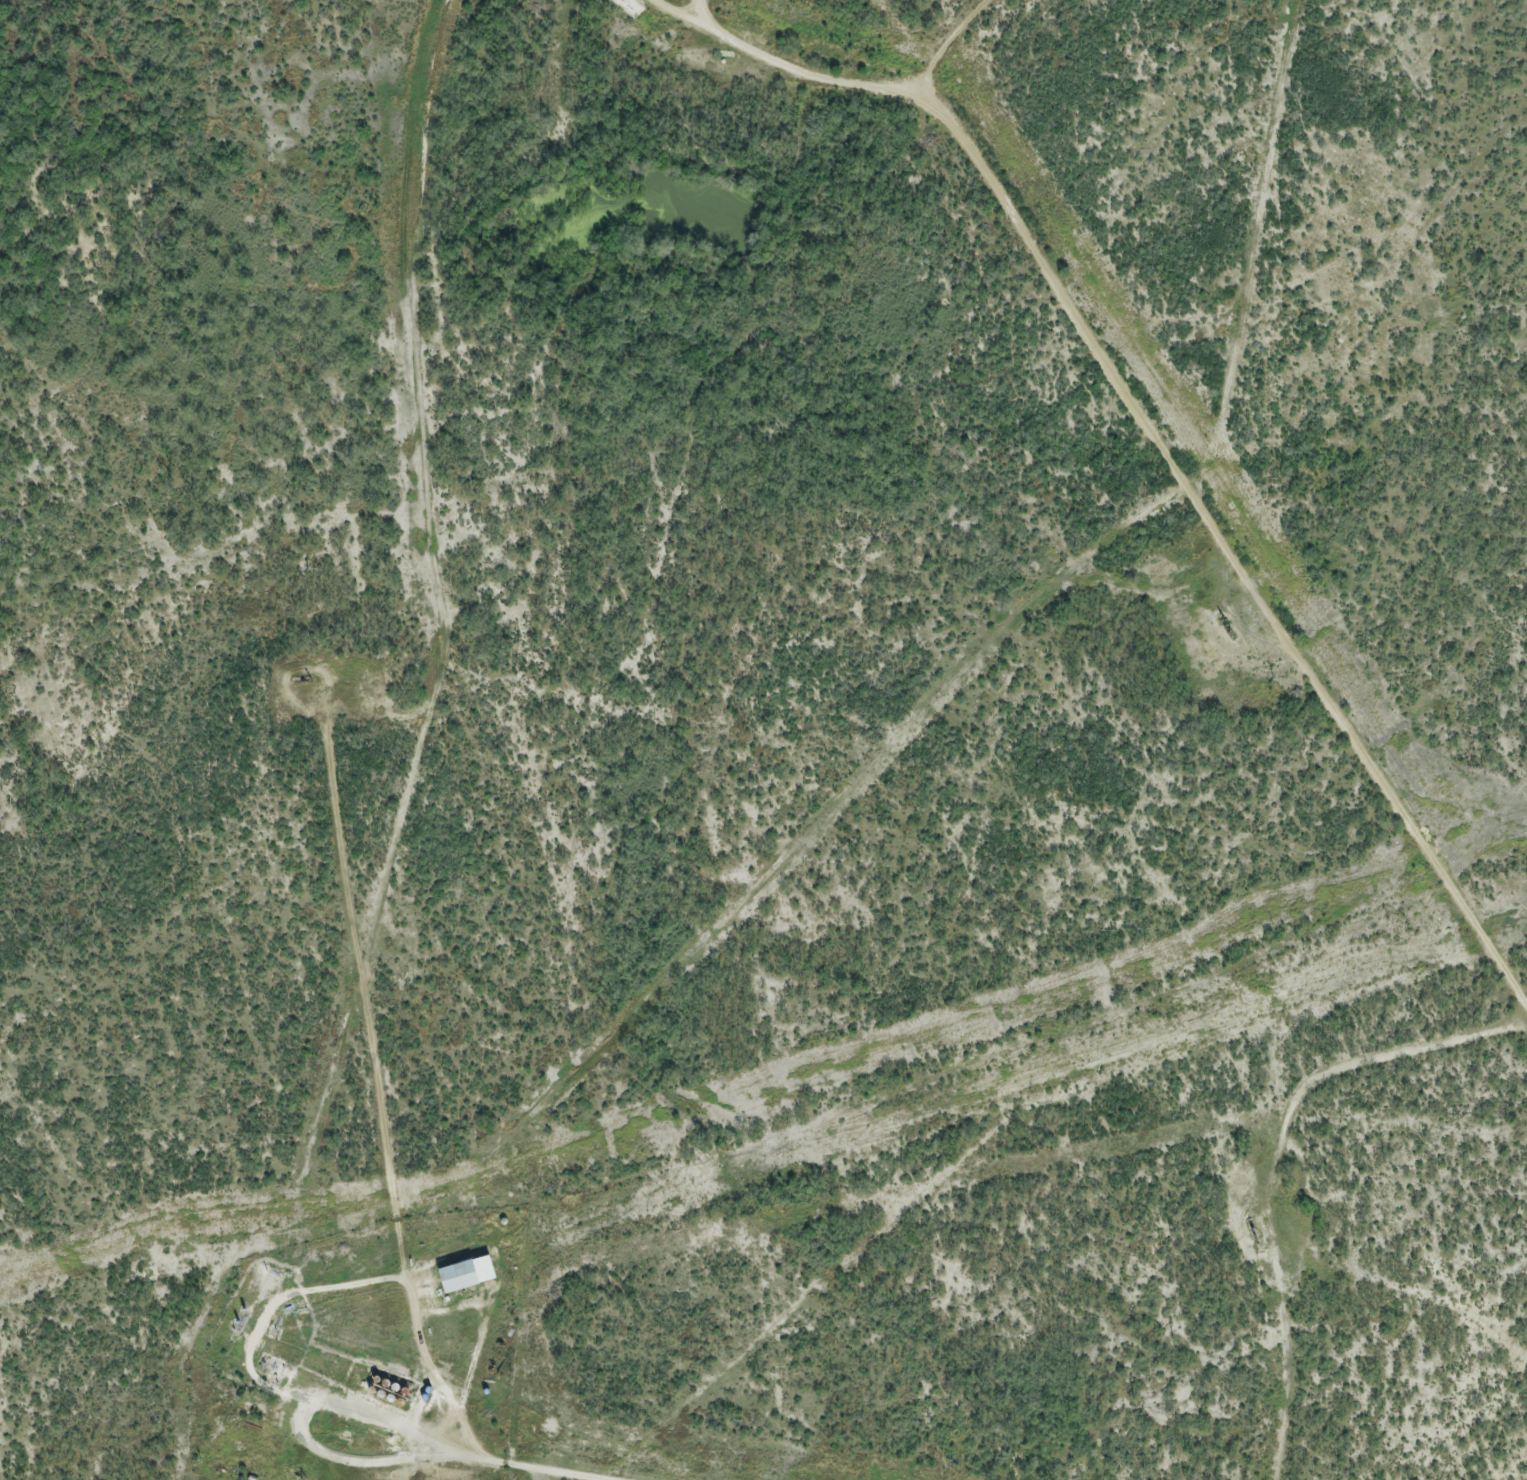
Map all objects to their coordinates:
road: (1152, 430)
building: (468, 1274)

